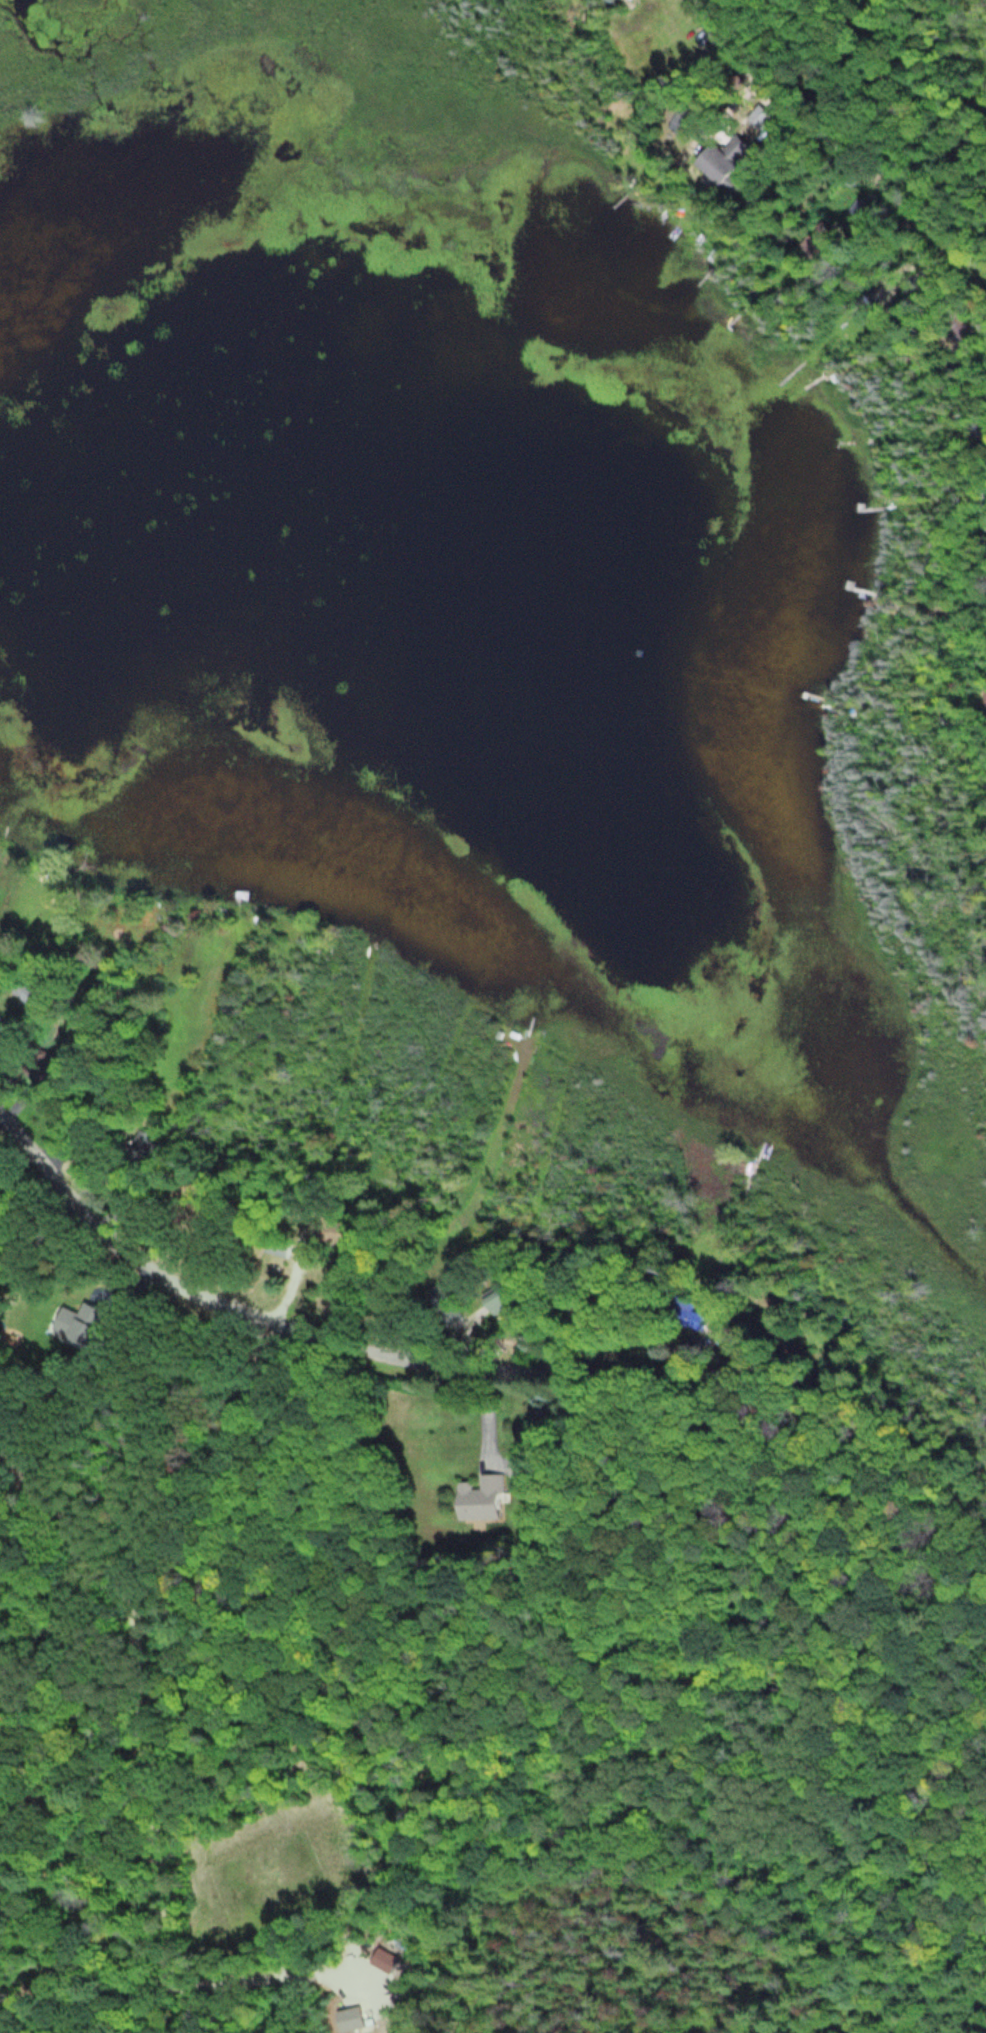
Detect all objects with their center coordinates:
road: (836, 142)
building: (720, 162)
building: (29, 993)
building: (144, 1147)
building: (211, 1218)
building: (325, 1233)
building: (279, 1244)
building: (446, 1303)
road: (293, 1332)
building: (481, 1499)
road: (160, 1719)

